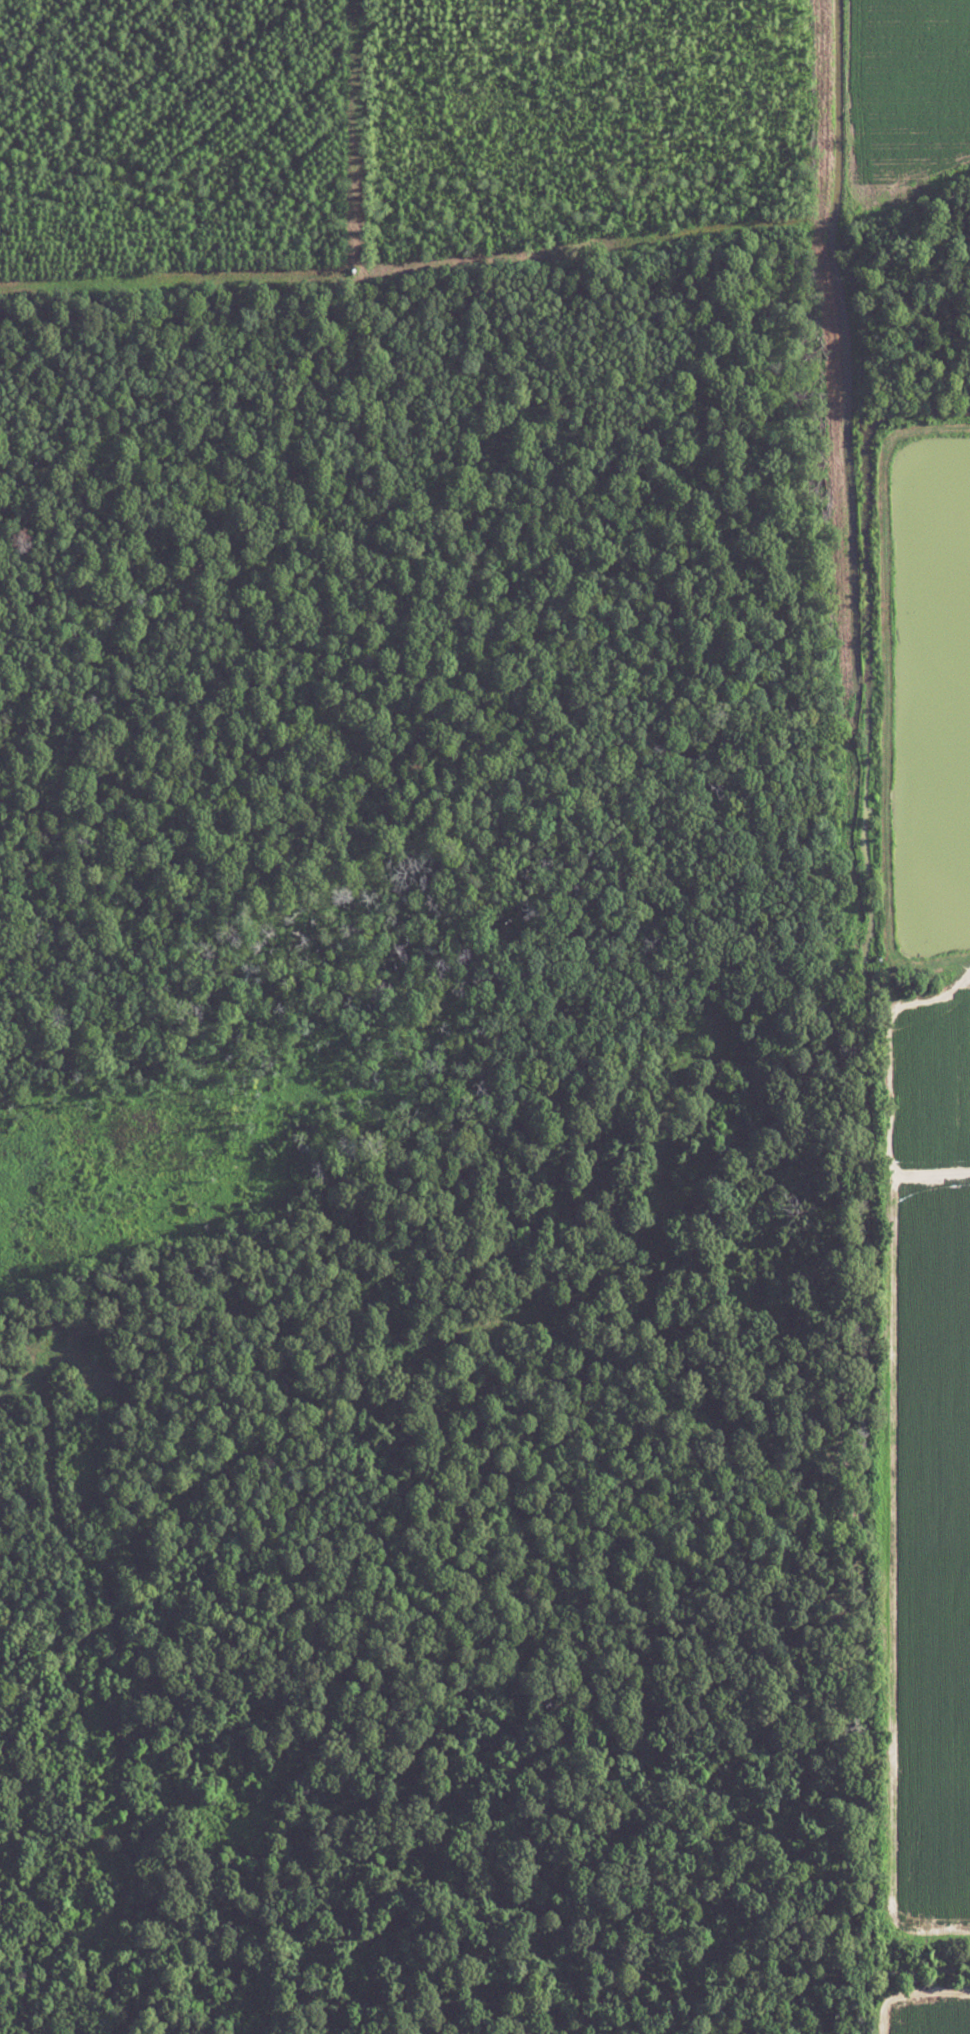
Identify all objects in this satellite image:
road: (885, 1080)

